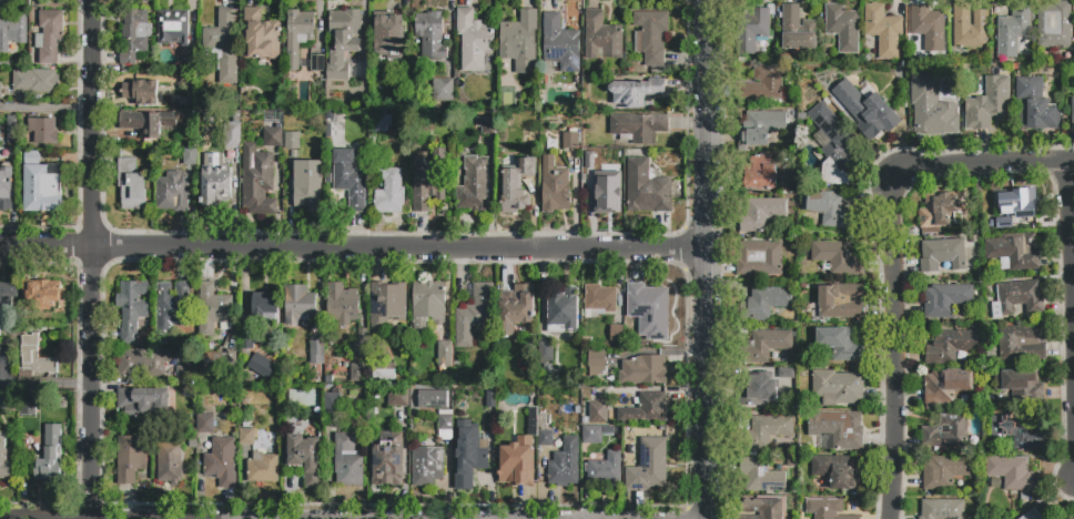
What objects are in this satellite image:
building: (1054, 26)
building: (173, 27)
building: (842, 27)
building: (928, 27)
building: (969, 27)
building: (751, 29)
building: (12, 30)
building: (797, 30)
building: (883, 30)
building: (1012, 31)
building: (50, 34)
building: (135, 35)
building: (260, 35)
building: (298, 35)
building: (651, 35)
building: (388, 37)
building: (430, 37)
building: (601, 37)
building: (474, 40)
building: (343, 41)
building: (520, 41)
building: (560, 43)
building: (223, 44)
building: (316, 62)
building: (191, 68)
building: (952, 73)
building: (37, 81)
building: (764, 83)
building: (0, 90)
building: (444, 90)
building: (636, 91)
building: (145, 92)
building: (989, 104)
building: (1035, 105)
building: (931, 106)
building: (865, 109)
road: (45, 111)
building: (1072, 113)
building: (146, 122)
building: (382, 123)
building: (485, 124)
building: (531, 126)
building: (761, 126)
building: (638, 128)
building: (13, 129)
building: (43, 130)
building: (232, 132)
building: (273, 138)
building: (292, 139)
building: (570, 140)
building: (832, 145)
building: (190, 155)
building: (760, 173)
building: (348, 175)
building: (214, 179)
building: (257, 180)
building: (428, 180)
building: (131, 183)
building: (7, 185)
building: (41, 185)
building: (473, 185)
building: (555, 185)
building: (602, 185)
building: (307, 186)
building: (515, 186)
building: (646, 189)
building: (173, 192)
building: (389, 192)
building: (1017, 203)
building: (830, 208)
building: (940, 210)
building: (761, 213)
building: (1004, 223)
road: (353, 250)
road: (890, 252)
building: (1014, 253)
building: (942, 255)
building: (837, 257)
road: (90, 258)
road: (707, 258)
building: (760, 258)
road: (1071, 291)
building: (40, 295)
building: (1017, 297)
building: (7, 298)
building: (945, 299)
building: (599, 301)
building: (427, 302)
building: (840, 302)
building: (342, 303)
building: (520, 303)
building: (764, 303)
building: (298, 304)
building: (386, 305)
building: (172, 306)
building: (133, 308)
building: (264, 308)
building: (564, 308)
building: (213, 309)
building: (649, 309)
building: (474, 314)
building: (616, 333)
building: (245, 342)
building: (359, 343)
building: (840, 343)
building: (1021, 344)
building: (764, 346)
building: (950, 346)
building: (317, 352)
building: (404, 352)
building: (505, 353)
building: (546, 353)
building: (445, 355)
building: (6, 356)
building: (33, 358)
building: (142, 363)
building: (217, 363)
building: (596, 363)
building: (263, 368)
building: (644, 369)
building: (184, 374)
building: (385, 374)
building: (358, 375)
building: (1021, 384)
road: (44, 386)
building: (944, 386)
building: (838, 387)
building: (764, 389)
building: (186, 397)
building: (397, 397)
building: (433, 399)
building: (142, 400)
building: (10, 405)
building: (334, 406)
building: (29, 408)
building: (646, 409)
building: (599, 414)
building: (368, 416)
building: (445, 420)
building: (462, 423)
building: (205, 424)
building: (837, 429)
building: (1017, 430)
building: (764, 431)
building: (945, 431)
building: (545, 432)
building: (592, 435)
building: (246, 437)
building: (49, 457)
building: (304, 458)
building: (386, 458)
building: (3, 459)
building: (348, 460)
building: (791, 461)
building: (131, 462)
building: (220, 462)
building: (566, 464)
building: (516, 465)
building: (169, 466)
building: (427, 466)
building: (649, 466)
building: (470, 467)
building: (262, 468)
building: (607, 469)
building: (945, 470)
building: (838, 471)
building: (1011, 471)
building: (761, 476)
building: (762, 509)
building: (827, 509)
building: (943, 509)
building: (1033, 515)
building: (1050, 517)
building: (1061, 518)

